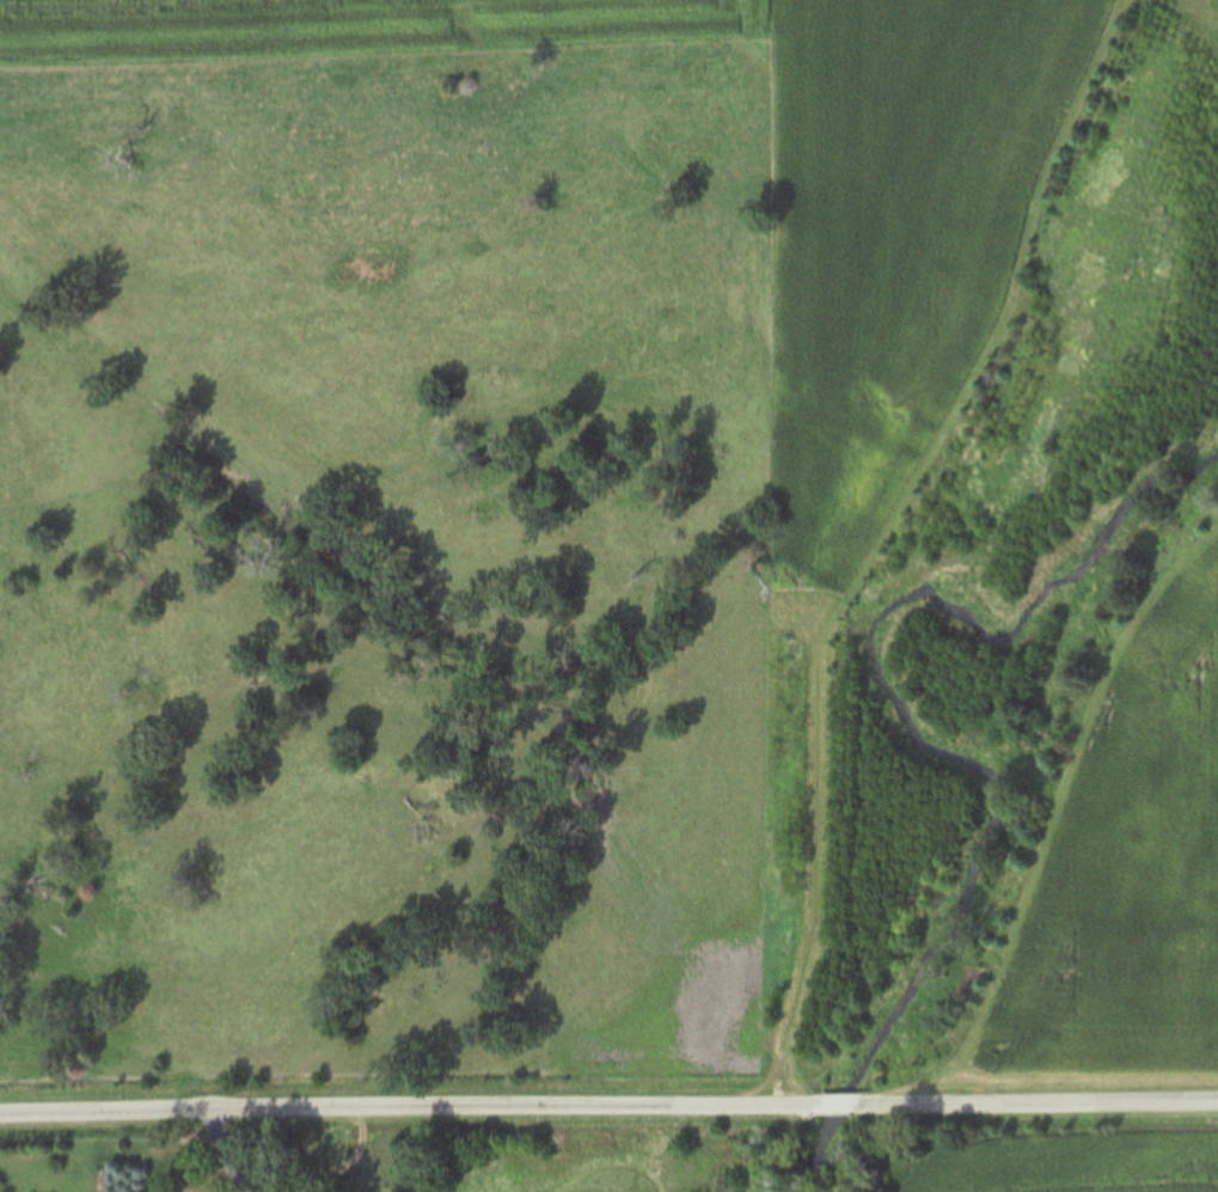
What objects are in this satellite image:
road: (608, 1107)
road: (222, 1151)

